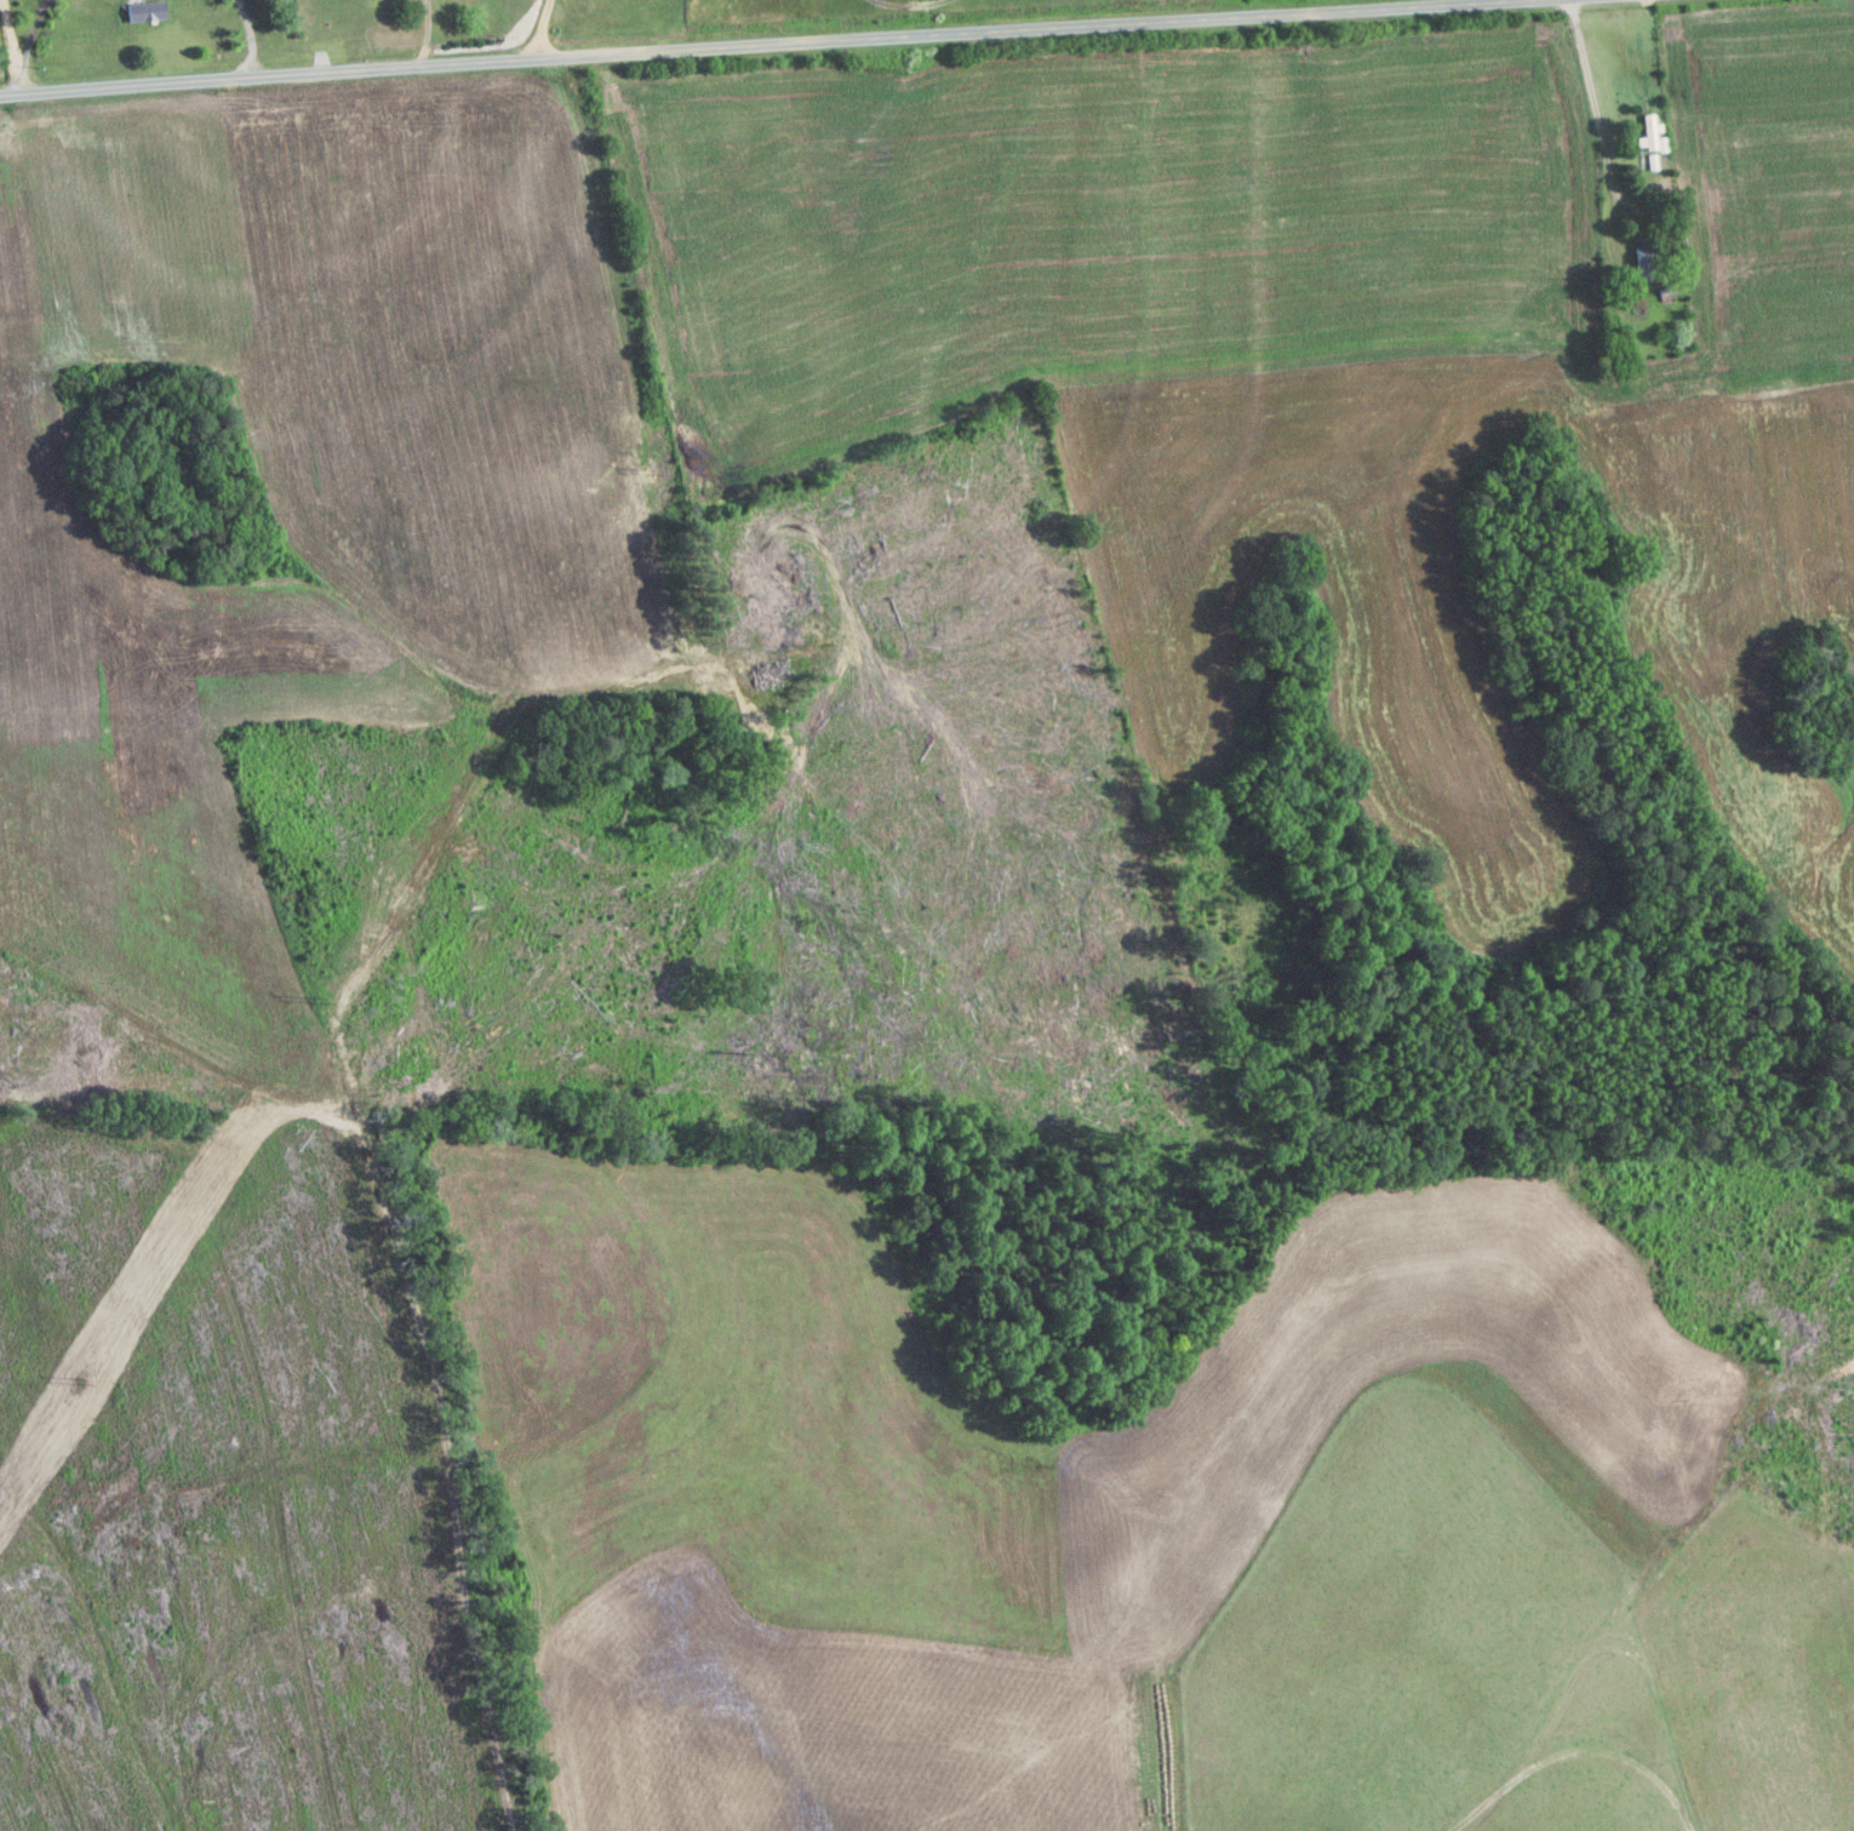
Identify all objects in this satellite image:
road: (1268, 13)
building: (142, 15)
road: (543, 30)
road: (487, 64)
building: (1653, 137)
building: (1648, 264)
crop: (298, 498)

